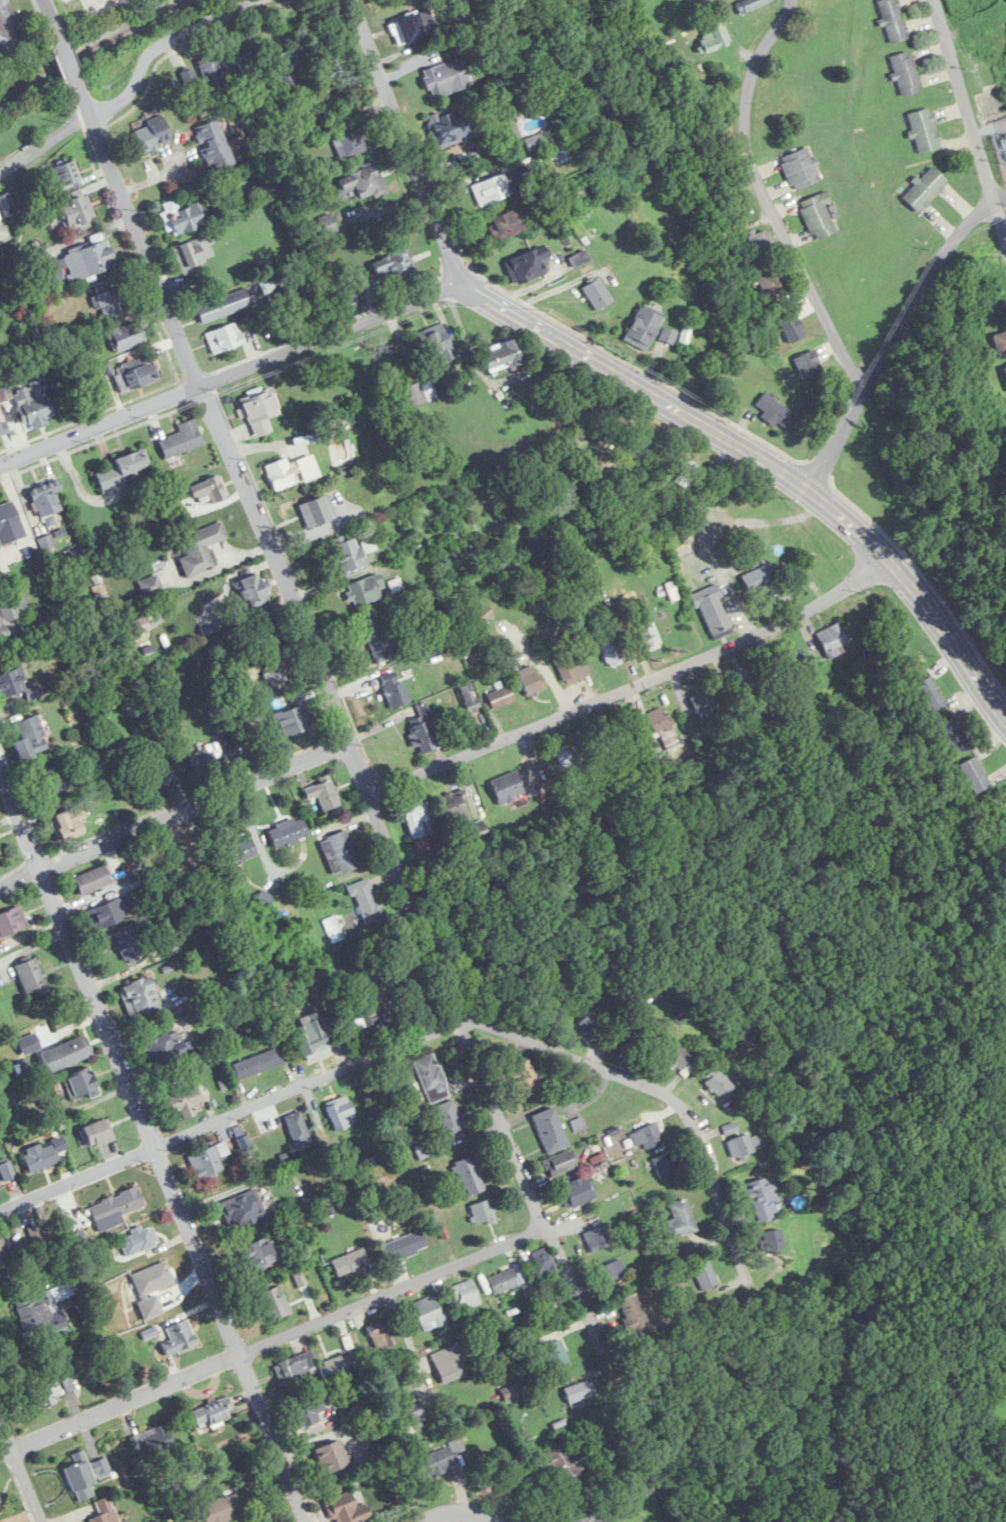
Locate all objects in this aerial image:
building: (65, 0)
building: (751, 4)
building: (102, 5)
road: (46, 9)
building: (892, 19)
building: (415, 26)
building: (714, 37)
railway: (93, 45)
road: (66, 56)
building: (249, 69)
building: (290, 70)
building: (212, 71)
building: (905, 72)
building: (445, 78)
building: (190, 80)
road: (135, 90)
road: (969, 120)
building: (451, 126)
building: (923, 130)
building: (153, 134)
power substation: (999, 142)
building: (215, 143)
building: (350, 143)
building: (800, 167)
building: (65, 175)
building: (363, 181)
building: (924, 188)
building: (492, 189)
road: (769, 204)
building: (69, 212)
building: (817, 215)
building: (182, 218)
building: (328, 224)
building: (506, 224)
building: (760, 242)
building: (193, 253)
building: (394, 261)
building: (78, 263)
building: (528, 265)
building: (770, 283)
building: (596, 294)
building: (346, 298)
building: (110, 303)
building: (224, 305)
building: (791, 327)
building: (642, 328)
building: (126, 336)
road: (897, 336)
building: (224, 337)
building: (1000, 342)
building: (435, 343)
building: (502, 355)
building: (808, 364)
building: (1005, 368)
building: (135, 374)
road: (232, 375)
road: (636, 385)
building: (420, 393)
building: (33, 403)
building: (774, 411)
building: (260, 412)
building: (181, 439)
building: (639, 447)
building: (307, 468)
building: (120, 469)
building: (279, 474)
building: (686, 475)
building: (209, 489)
building: (45, 498)
building: (729, 508)
building: (316, 511)
building: (9, 524)
building: (648, 526)
building: (200, 548)
building: (347, 553)
building: (760, 578)
building: (150, 585)
building: (252, 590)
building: (365, 590)
building: (712, 611)
building: (10, 614)
building: (480, 617)
building: (268, 634)
building: (649, 635)
building: (377, 639)
building: (832, 639)
building: (611, 650)
building: (502, 652)
building: (791, 658)
road: (539, 663)
building: (571, 667)
building: (274, 673)
building: (530, 680)
building: (12, 683)
building: (742, 683)
road: (631, 685)
building: (395, 691)
building: (930, 694)
building: (470, 697)
building: (500, 698)
building: (703, 701)
building: (293, 716)
building: (661, 728)
building: (423, 730)
building: (953, 735)
building: (30, 738)
building: (212, 751)
road: (353, 753)
building: (568, 759)
building: (974, 774)
building: (156, 777)
building: (50, 780)
building: (508, 787)
building: (323, 793)
building: (453, 806)
road: (172, 812)
building: (417, 817)
building: (65, 826)
building: (287, 831)
building: (476, 837)
building: (236, 851)
building: (341, 852)
building: (0, 857)
building: (91, 880)
building: (365, 901)
building: (110, 912)
building: (11, 921)
building: (127, 945)
building: (32, 977)
building: (140, 997)
building: (370, 1011)
building: (590, 1024)
road: (435, 1027)
building: (310, 1034)
building: (166, 1047)
building: (66, 1053)
building: (679, 1060)
building: (258, 1064)
building: (431, 1077)
building: (523, 1079)
building: (82, 1084)
building: (718, 1084)
building: (184, 1104)
building: (339, 1113)
building: (7, 1114)
building: (449, 1118)
building: (298, 1130)
building: (550, 1130)
building: (96, 1133)
building: (647, 1137)
building: (243, 1142)
road: (154, 1143)
building: (742, 1145)
building: (40, 1157)
building: (208, 1160)
building: (562, 1162)
building: (664, 1166)
building: (7, 1171)
building: (470, 1176)
building: (577, 1191)
building: (761, 1199)
building: (116, 1205)
building: (243, 1209)
building: (482, 1212)
building: (679, 1220)
building: (31, 1235)
building: (596, 1239)
building: (772, 1239)
building: (138, 1240)
building: (404, 1246)
building: (259, 1254)
building: (1, 1256)
building: (544, 1261)
building: (350, 1262)
building: (610, 1272)
building: (706, 1276)
building: (503, 1282)
building: (465, 1295)
building: (274, 1303)
building: (41, 1308)
building: (632, 1311)
building: (428, 1313)
building: (382, 1334)
building: (179, 1337)
road: (277, 1339)
building: (555, 1352)
building: (449, 1362)
building: (335, 1366)
building: (292, 1369)
road: (382, 1386)
building: (513, 1390)
building: (579, 1391)
building: (45, 1395)
building: (309, 1411)
building: (211, 1413)
building: (411, 1416)
building: (152, 1441)
building: (330, 1455)
building: (437, 1460)
building: (567, 1466)
road: (20, 1471)
building: (0, 1504)
building: (346, 1508)
building: (217, 1509)
building: (103, 1512)
road: (458, 1514)
building: (593, 1517)

